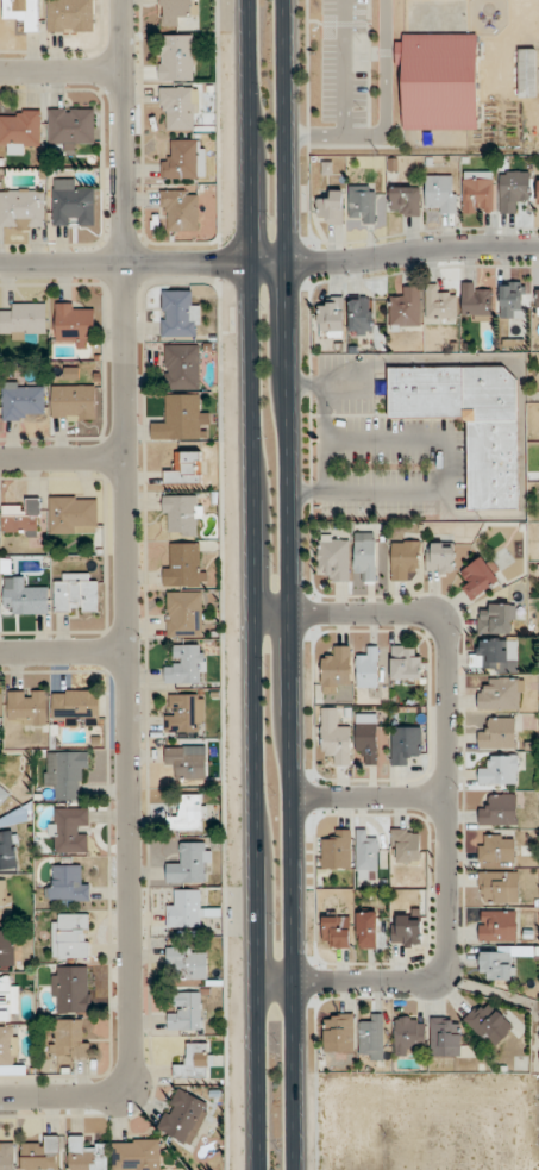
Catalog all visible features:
building: (21, 12)
building: (177, 12)
building: (70, 14)
building: (176, 57)
road: (59, 71)
building: (438, 80)
road: (384, 85)
road: (344, 95)
building: (178, 106)
building: (70, 127)
building: (20, 130)
building: (184, 159)
building: (513, 189)
building: (538, 189)
building: (477, 192)
building: (441, 193)
building: (405, 200)
building: (362, 202)
building: (71, 204)
building: (21, 207)
building: (331, 208)
building: (180, 209)
road: (269, 262)
building: (512, 298)
building: (537, 298)
building: (476, 301)
building: (439, 304)
building: (406, 307)
building: (178, 314)
building: (331, 314)
building: (361, 314)
building: (23, 321)
building: (74, 324)
building: (181, 365)
building: (23, 400)
building: (73, 402)
building: (184, 415)
building: (469, 421)
road: (445, 453)
road: (63, 458)
building: (186, 469)
building: (73, 514)
building: (182, 514)
building: (21, 518)
building: (334, 556)
building: (364, 556)
building: (439, 557)
building: (403, 558)
building: (182, 564)
building: (480, 576)
road: (253, 584)
road: (292, 584)
building: (75, 592)
building: (23, 597)
road: (126, 611)
building: (184, 613)
building: (497, 619)
road: (63, 651)
building: (493, 655)
building: (186, 663)
building: (407, 665)
building: (368, 669)
building: (336, 670)
building: (501, 694)
building: (26, 707)
building: (75, 707)
building: (184, 712)
building: (497, 733)
building: (336, 736)
building: (366, 736)
building: (405, 743)
building: (187, 762)
building: (500, 770)
building: (65, 772)
building: (2, 794)
road: (447, 795)
road: (370, 797)
building: (499, 809)
building: (189, 813)
building: (70, 830)
building: (406, 844)
building: (496, 847)
building: (8, 850)
building: (337, 851)
building: (365, 851)
building: (190, 863)
building: (67, 883)
building: (497, 887)
building: (5, 899)
building: (184, 908)
building: (497, 925)
building: (366, 928)
building: (406, 930)
building: (336, 931)
building: (70, 936)
building: (7, 947)
building: (188, 962)
building: (496, 965)
building: (70, 989)
building: (7, 999)
building: (186, 1012)
building: (488, 1022)
building: (338, 1032)
building: (409, 1034)
building: (445, 1037)
building: (68, 1038)
building: (371, 1038)
building: (7, 1045)
building: (194, 1060)
building: (183, 1118)
building: (40, 1153)
building: (136, 1153)
building: (86, 1156)
building: (6, 1157)

